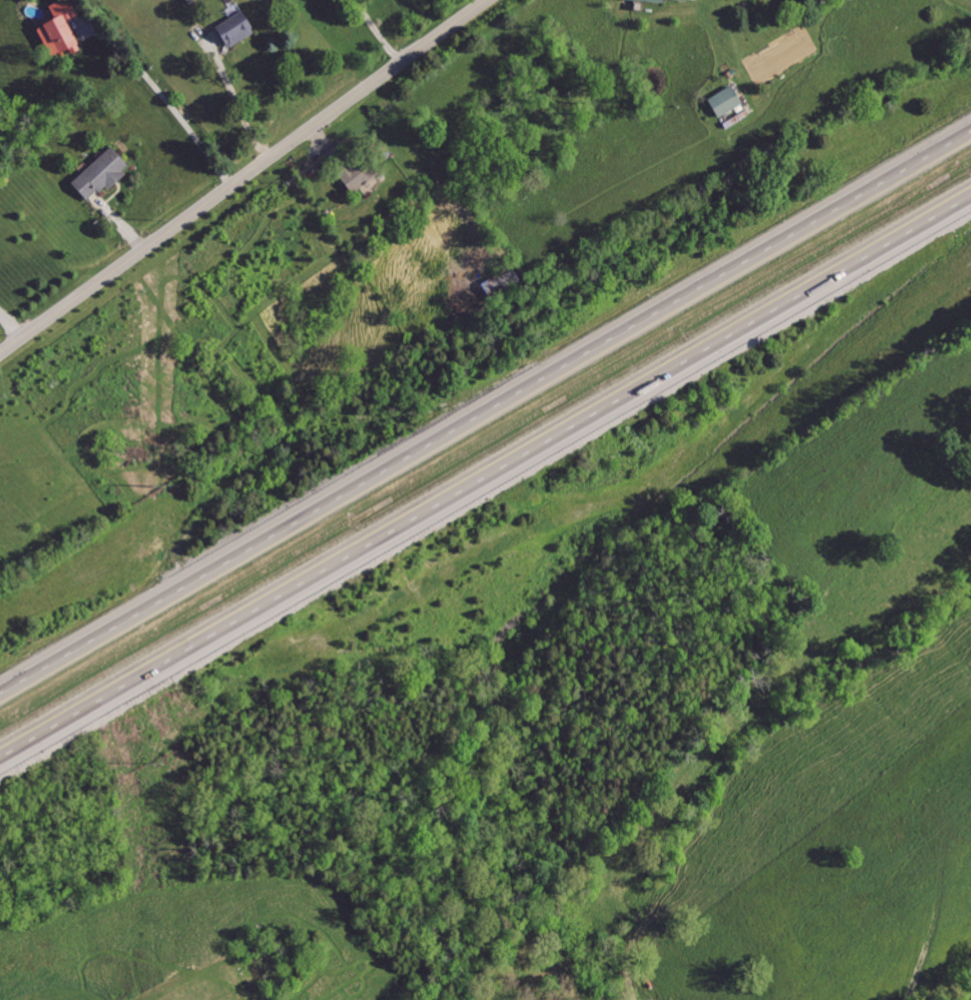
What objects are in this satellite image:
building: (677, 0)
building: (66, 29)
building: (233, 30)
road: (379, 32)
road: (165, 92)
building: (722, 101)
road: (238, 105)
building: (105, 174)
building: (356, 177)
road: (245, 178)
road: (11, 326)
road: (485, 416)
road: (485, 486)

